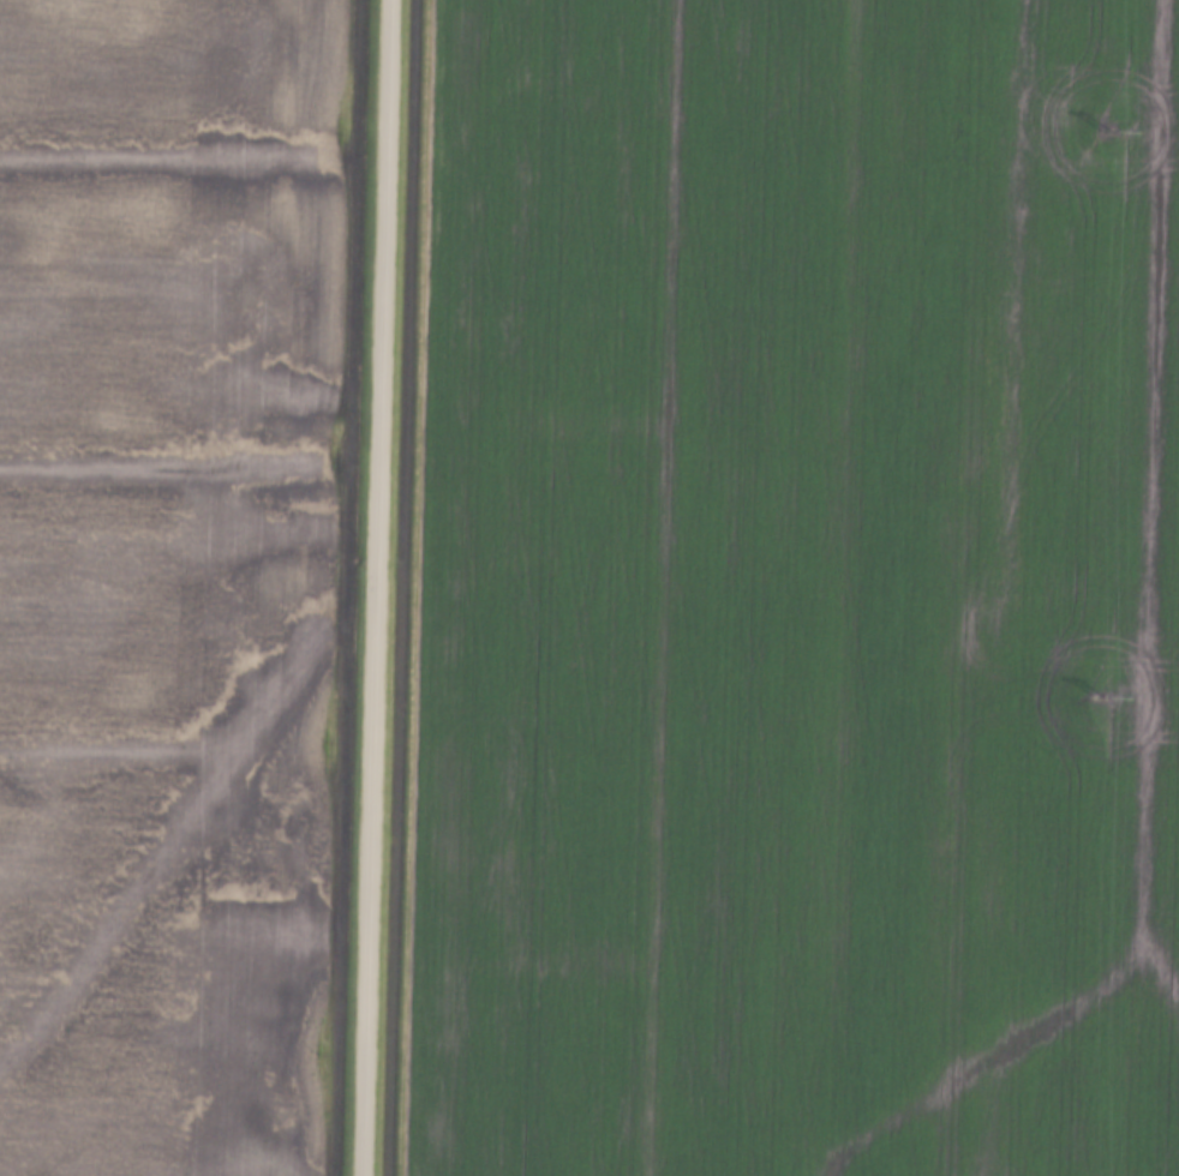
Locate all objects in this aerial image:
power tower: (1103, 131)
crop: (168, 580)
road: (371, 588)
crop: (795, 590)
power tower: (1096, 700)

